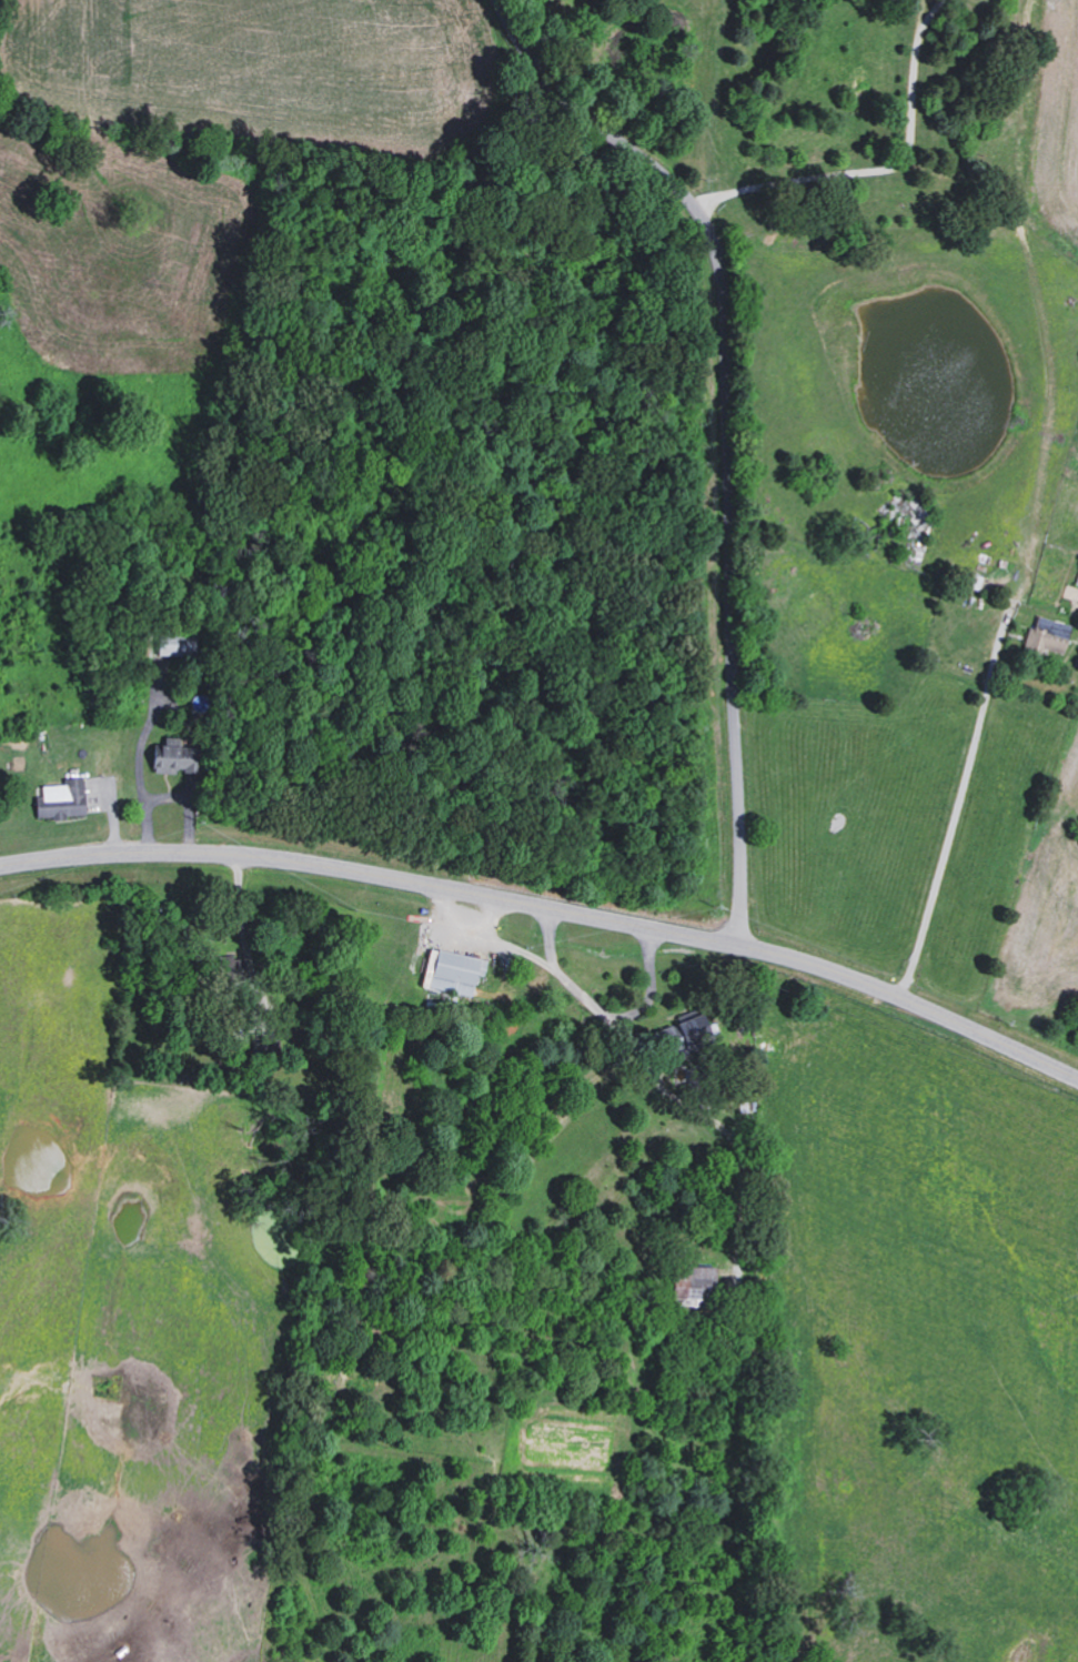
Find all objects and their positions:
road: (889, 168)
road: (728, 420)
building: (1046, 636)
building: (171, 756)
building: (61, 799)
road: (956, 810)
road: (551, 908)
road: (491, 924)
road: (482, 945)
building: (453, 973)
road: (603, 1015)
building: (681, 1034)
building: (691, 1281)

